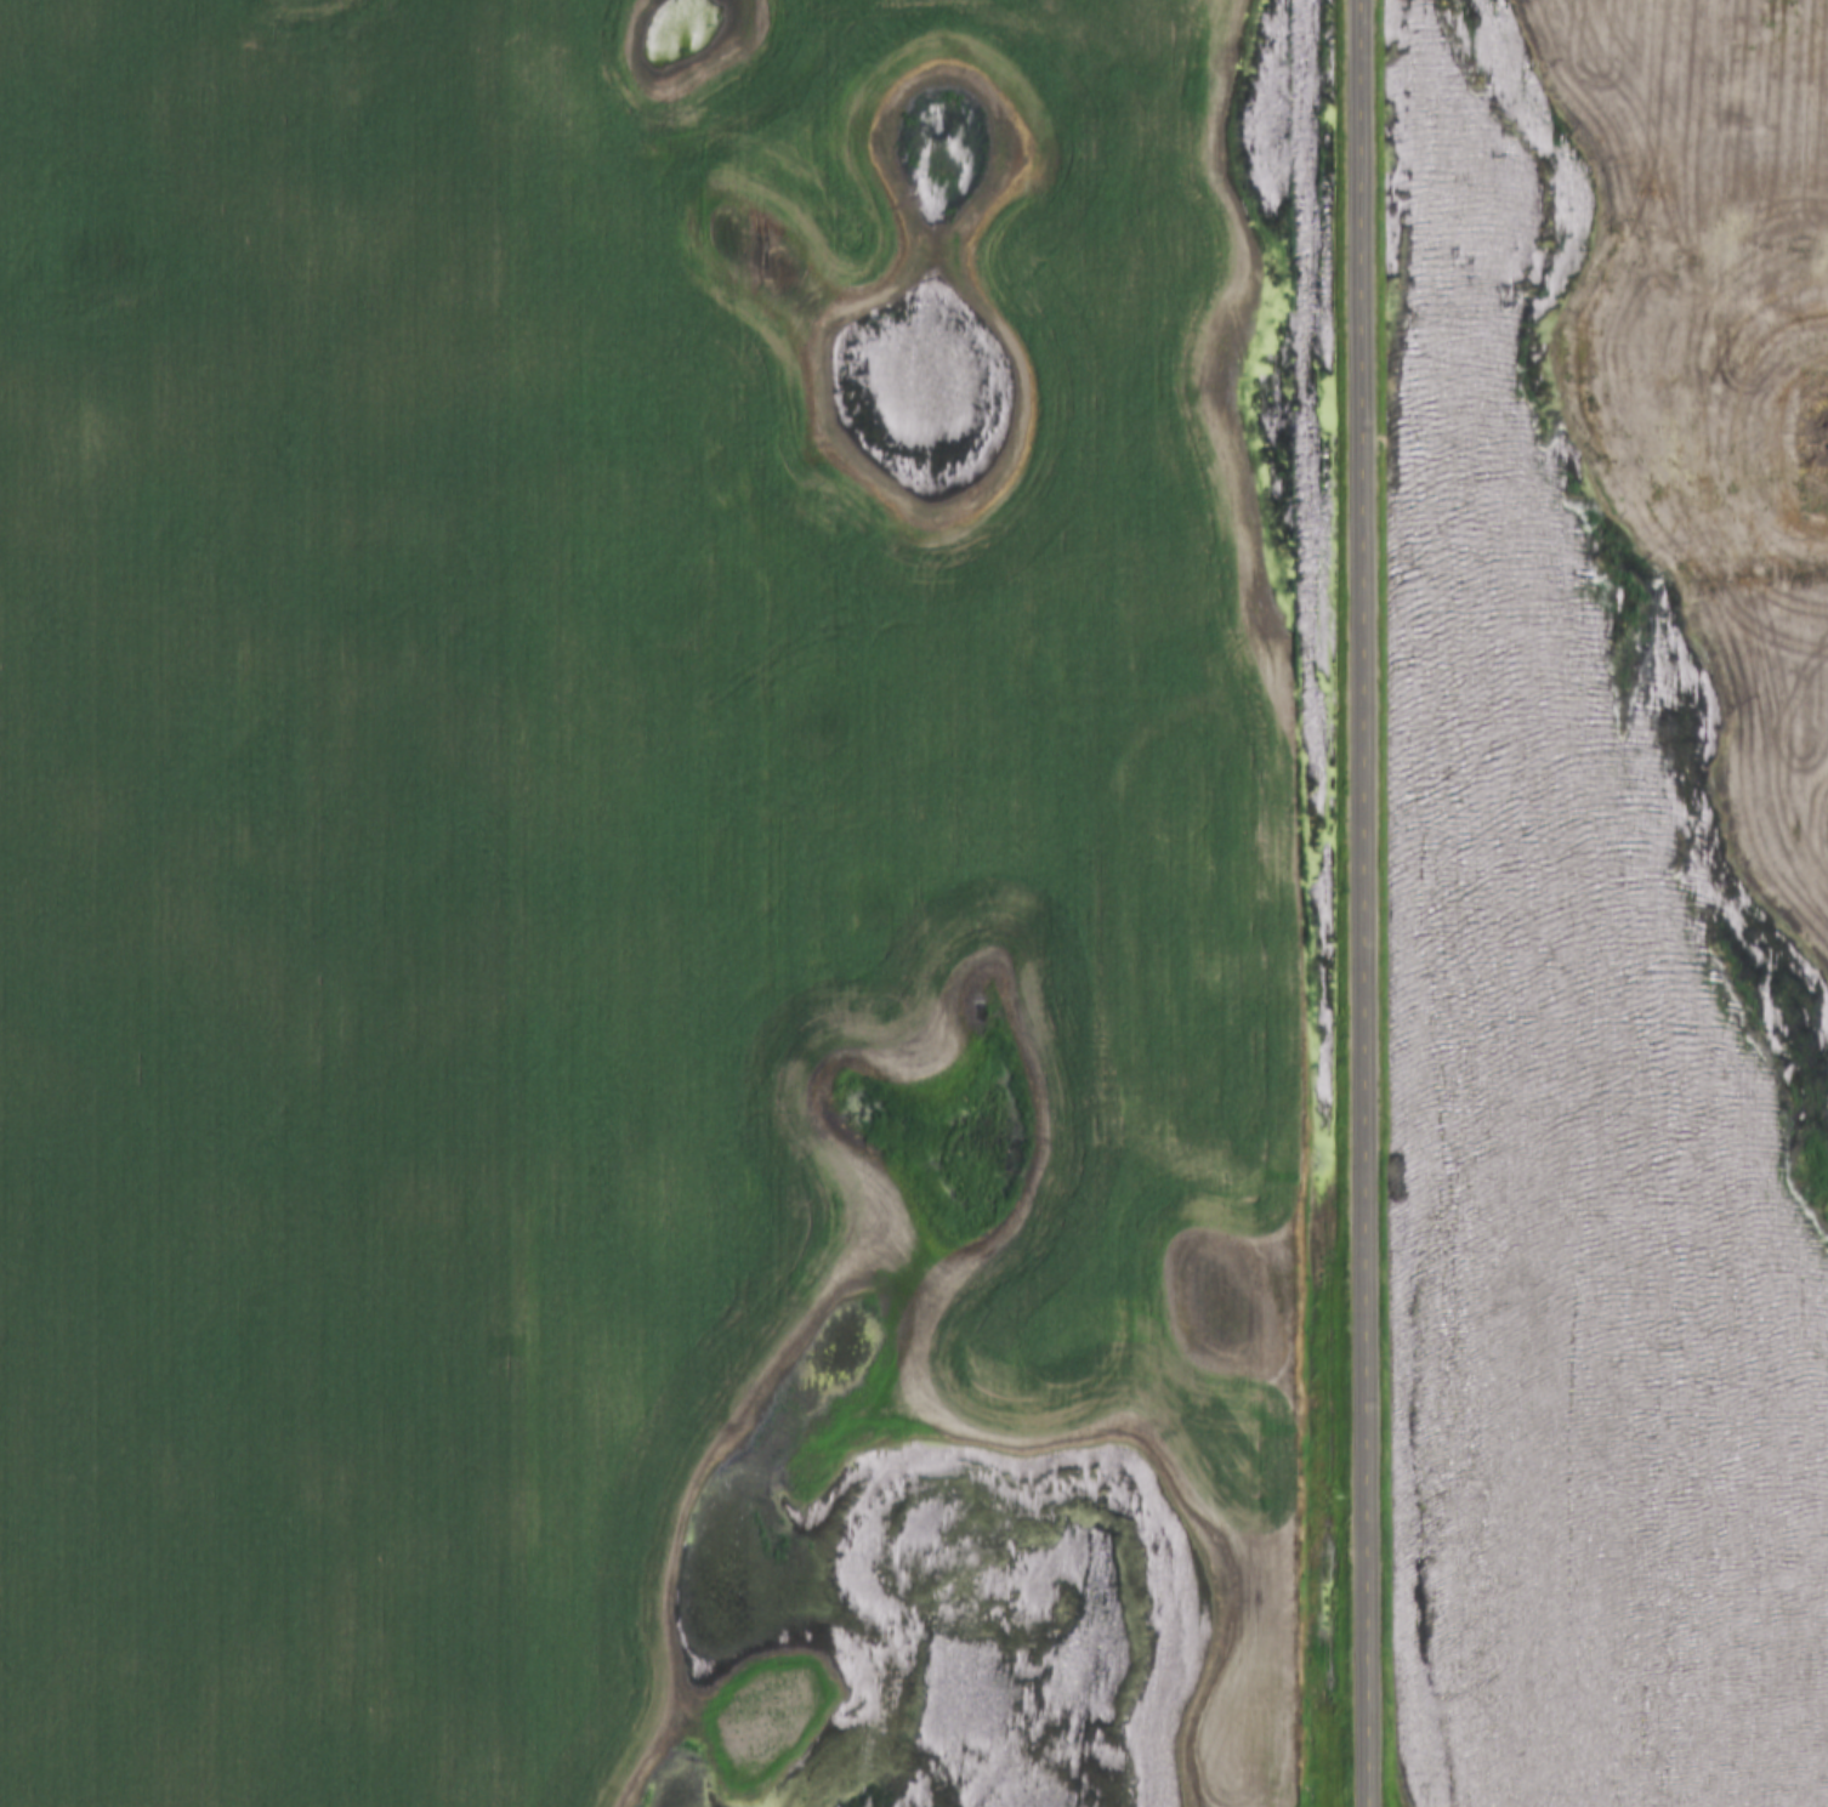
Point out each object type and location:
road: (1364, 903)

